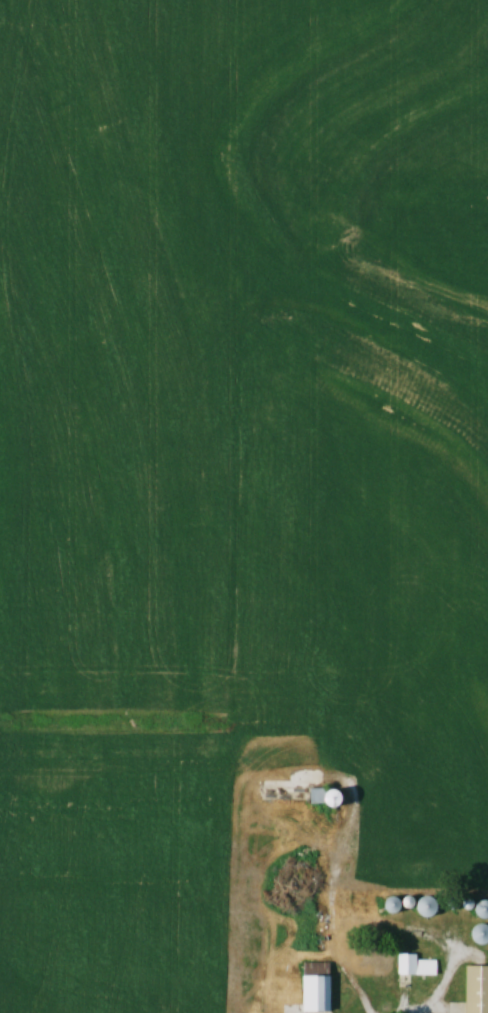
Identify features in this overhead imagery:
building: (318, 797)
building: (387, 905)
building: (421, 907)
building: (478, 909)
building: (476, 934)
building: (373, 957)
building: (411, 969)
building: (313, 988)
building: (474, 989)
road: (425, 1011)

